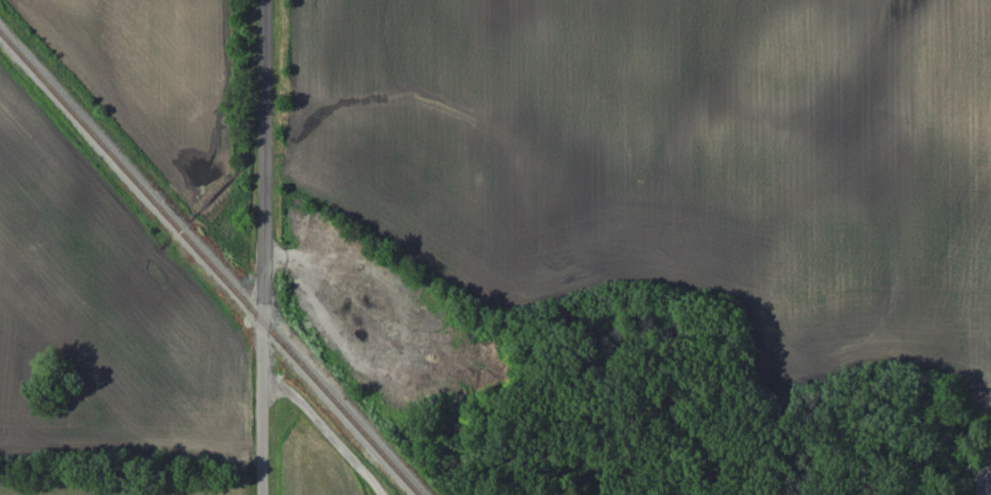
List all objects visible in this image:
road: (263, 161)
railway: (209, 264)
road: (261, 408)
road: (990, 475)
road: (983, 484)

